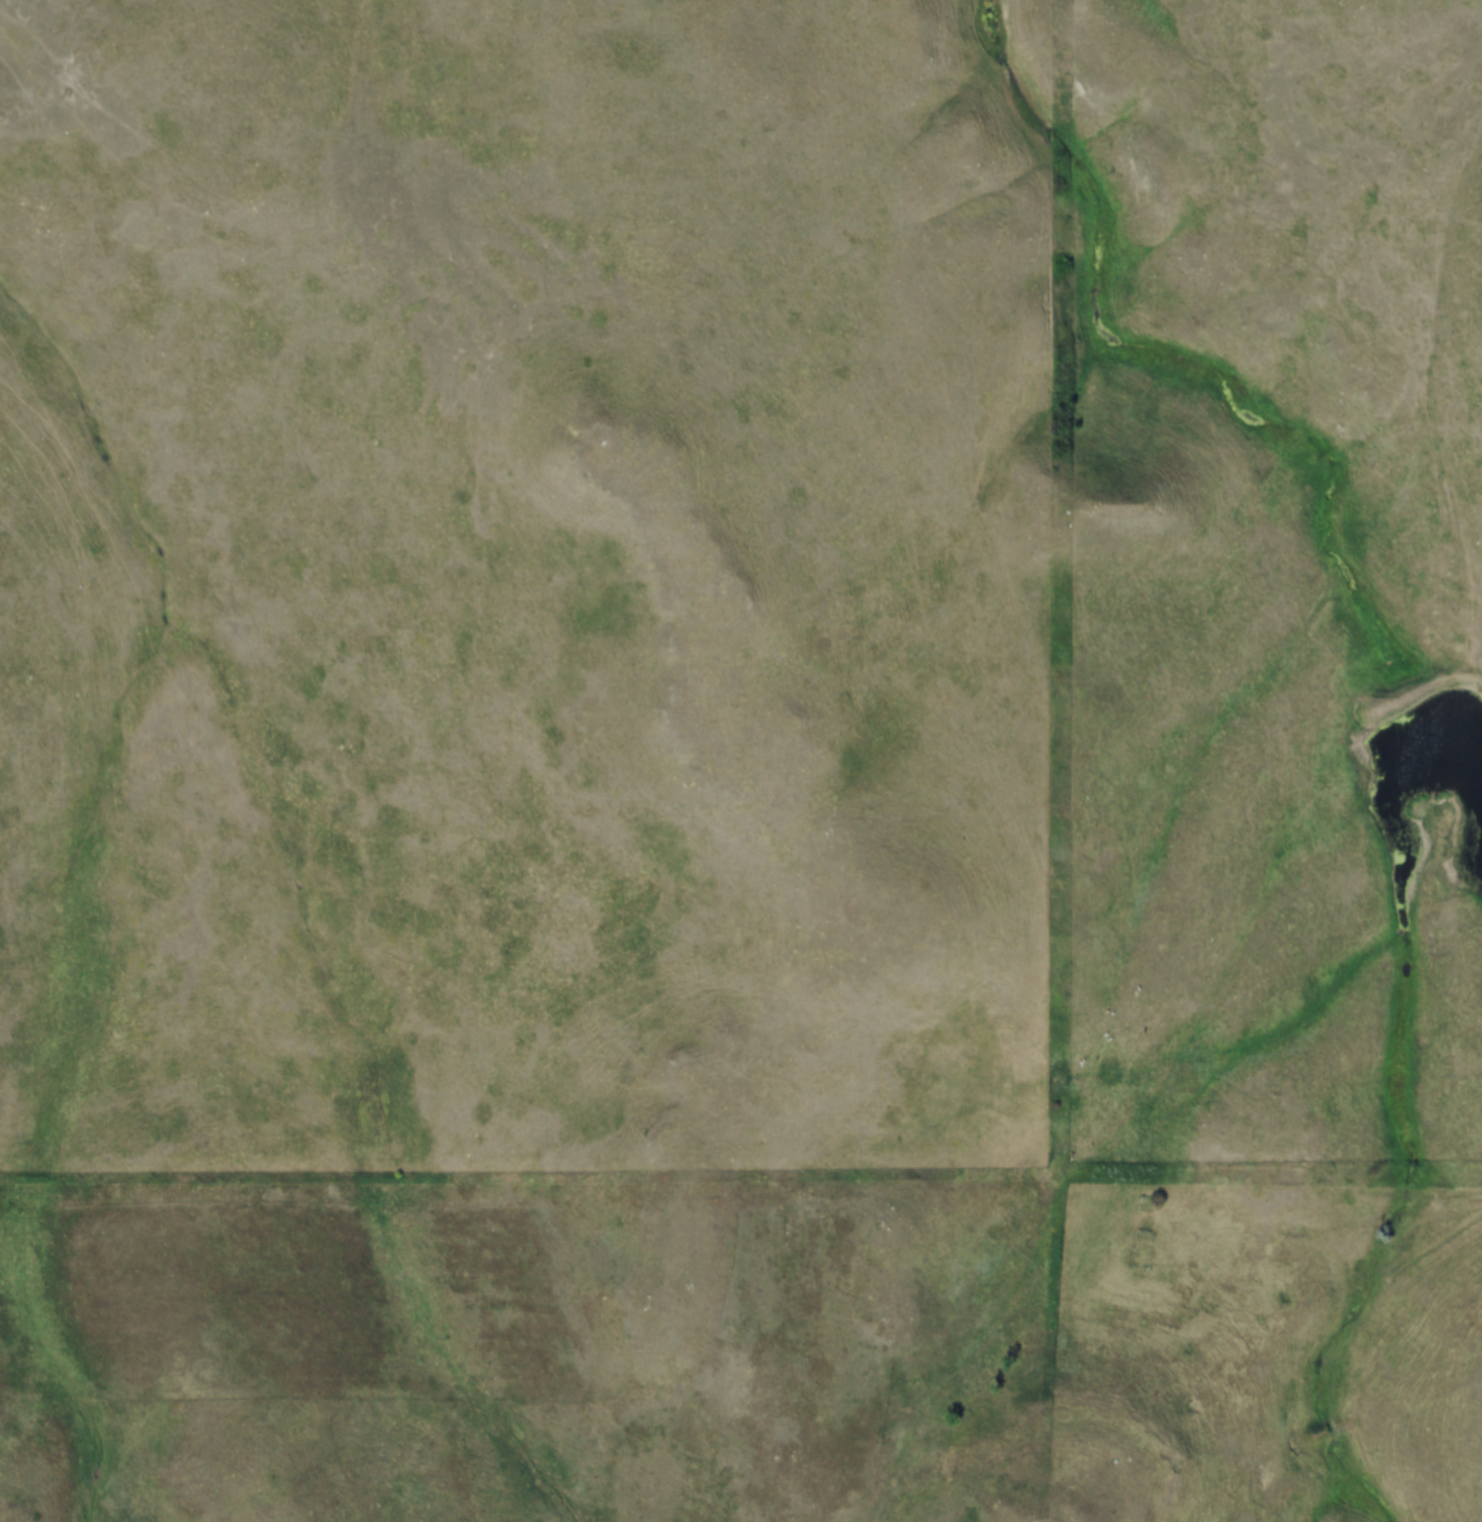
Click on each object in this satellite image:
road: (1324, 1196)

